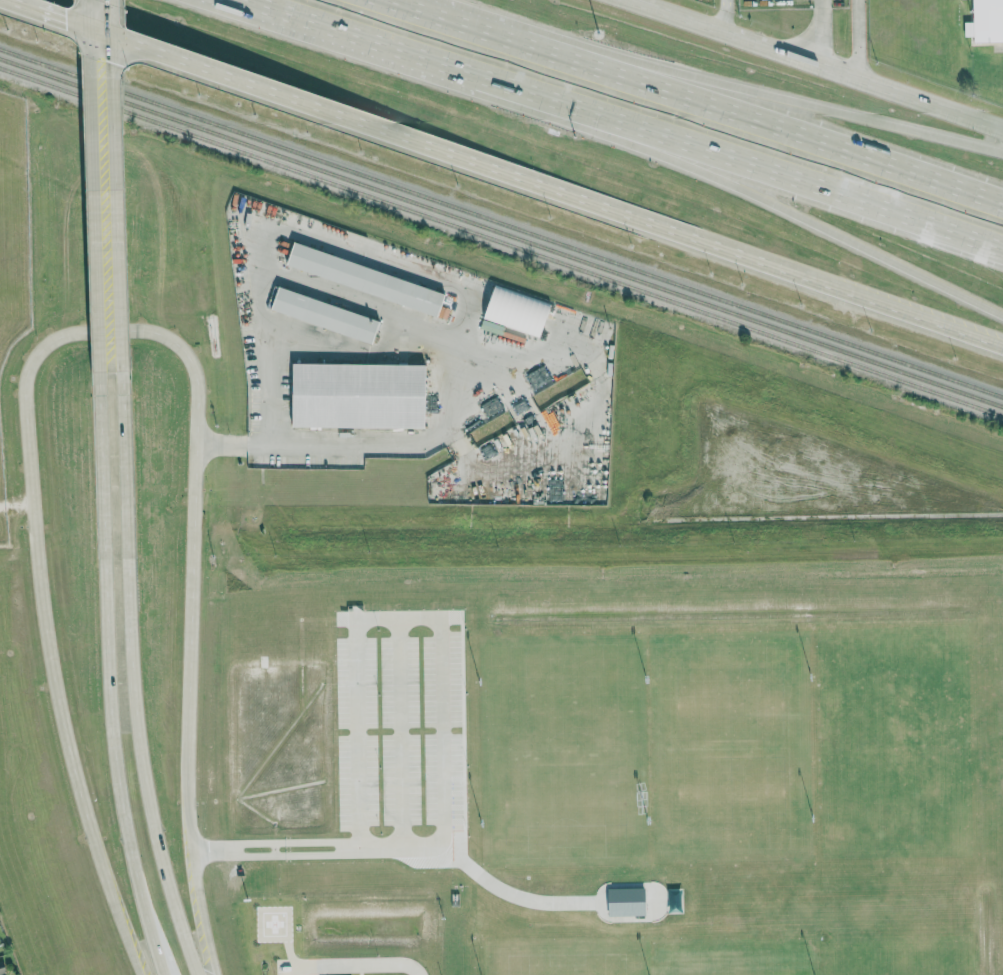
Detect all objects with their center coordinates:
road: (640, 5)
road: (54, 13)
road: (94, 14)
road: (728, 16)
traffic signals: (64, 17)
building: (986, 21)
road: (482, 26)
road: (818, 32)
road: (858, 39)
traffic signals: (118, 65)
road: (450, 69)
road: (830, 69)
road: (230, 75)
road: (782, 96)
road: (780, 130)
road: (118, 184)
road: (98, 198)
road: (830, 198)
railway: (501, 223)
road: (830, 229)
railway: (500, 235)
road: (684, 236)
railway: (501, 241)
building: (367, 279)
building: (519, 312)
building: (327, 315)
road: (458, 378)
building: (361, 396)
road: (16, 504)
road: (42, 611)
road: (437, 629)
road: (190, 639)
road: (109, 674)
road: (132, 676)
road: (397, 733)
road: (339, 847)
road: (212, 848)
road: (508, 896)
building: (628, 901)
road: (358, 962)
road: (168, 966)
building: (3, 969)

